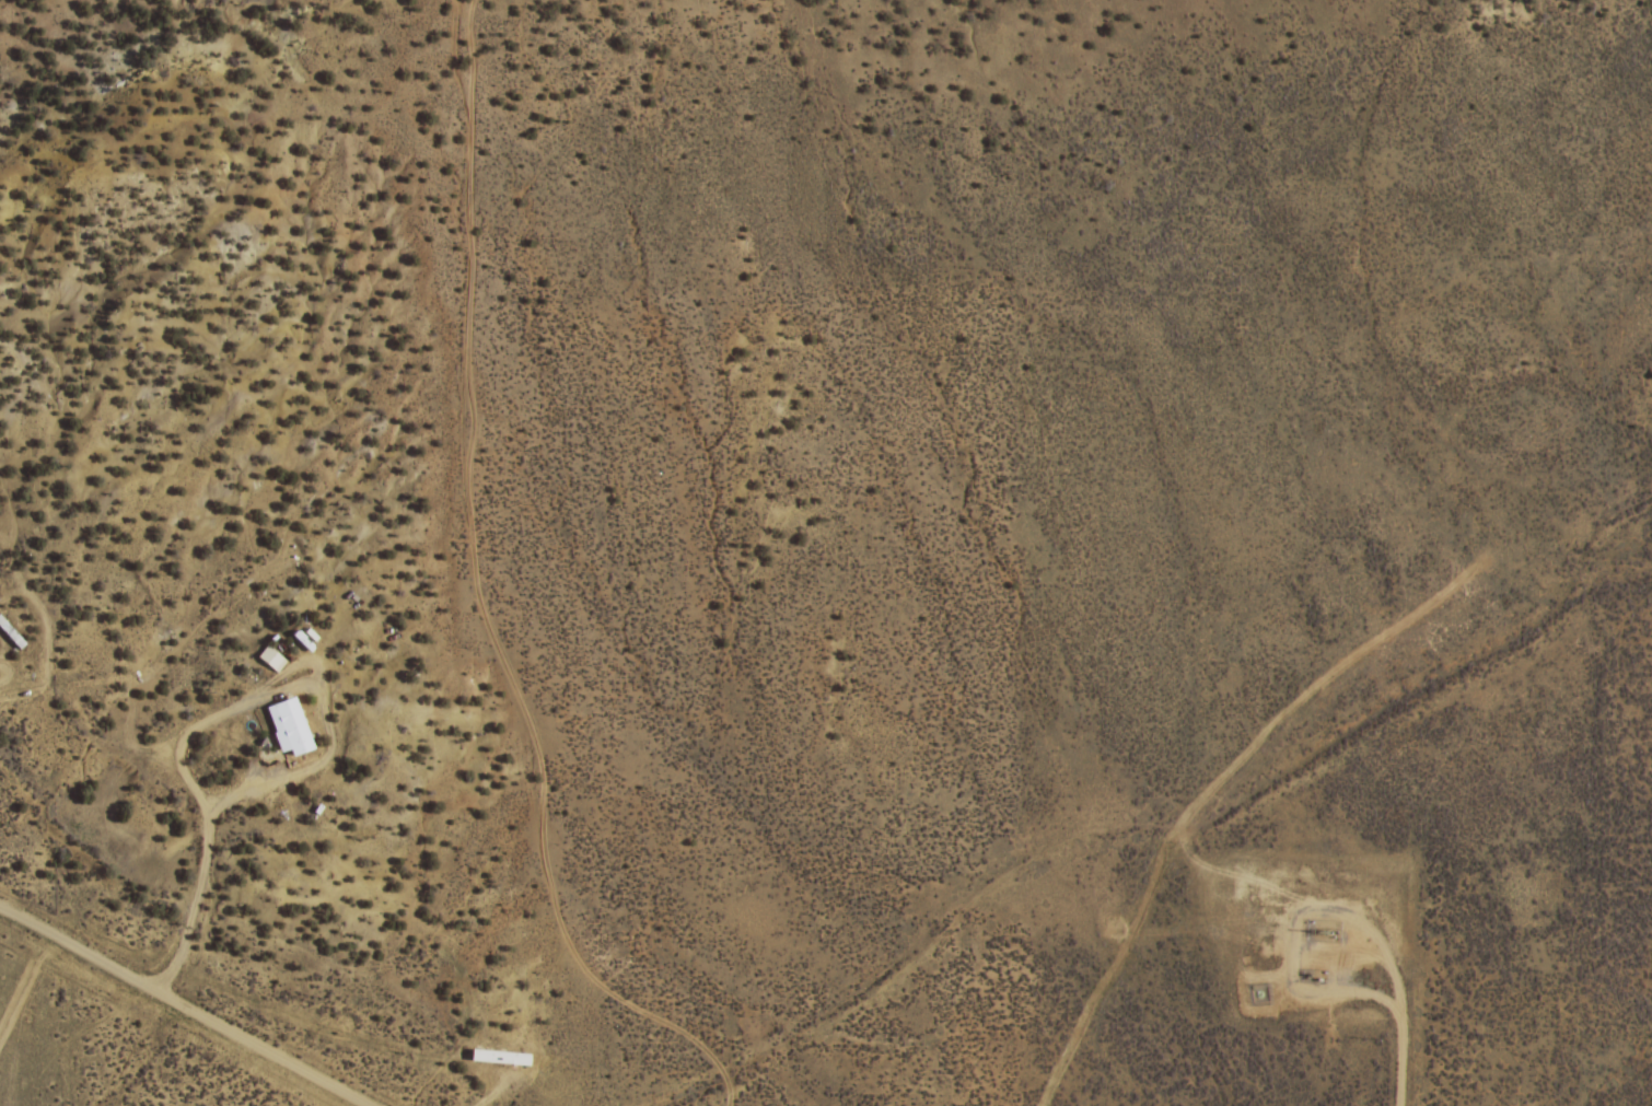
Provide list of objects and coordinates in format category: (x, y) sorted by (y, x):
building: (269, 657)
building: (292, 726)
road: (181, 1010)

